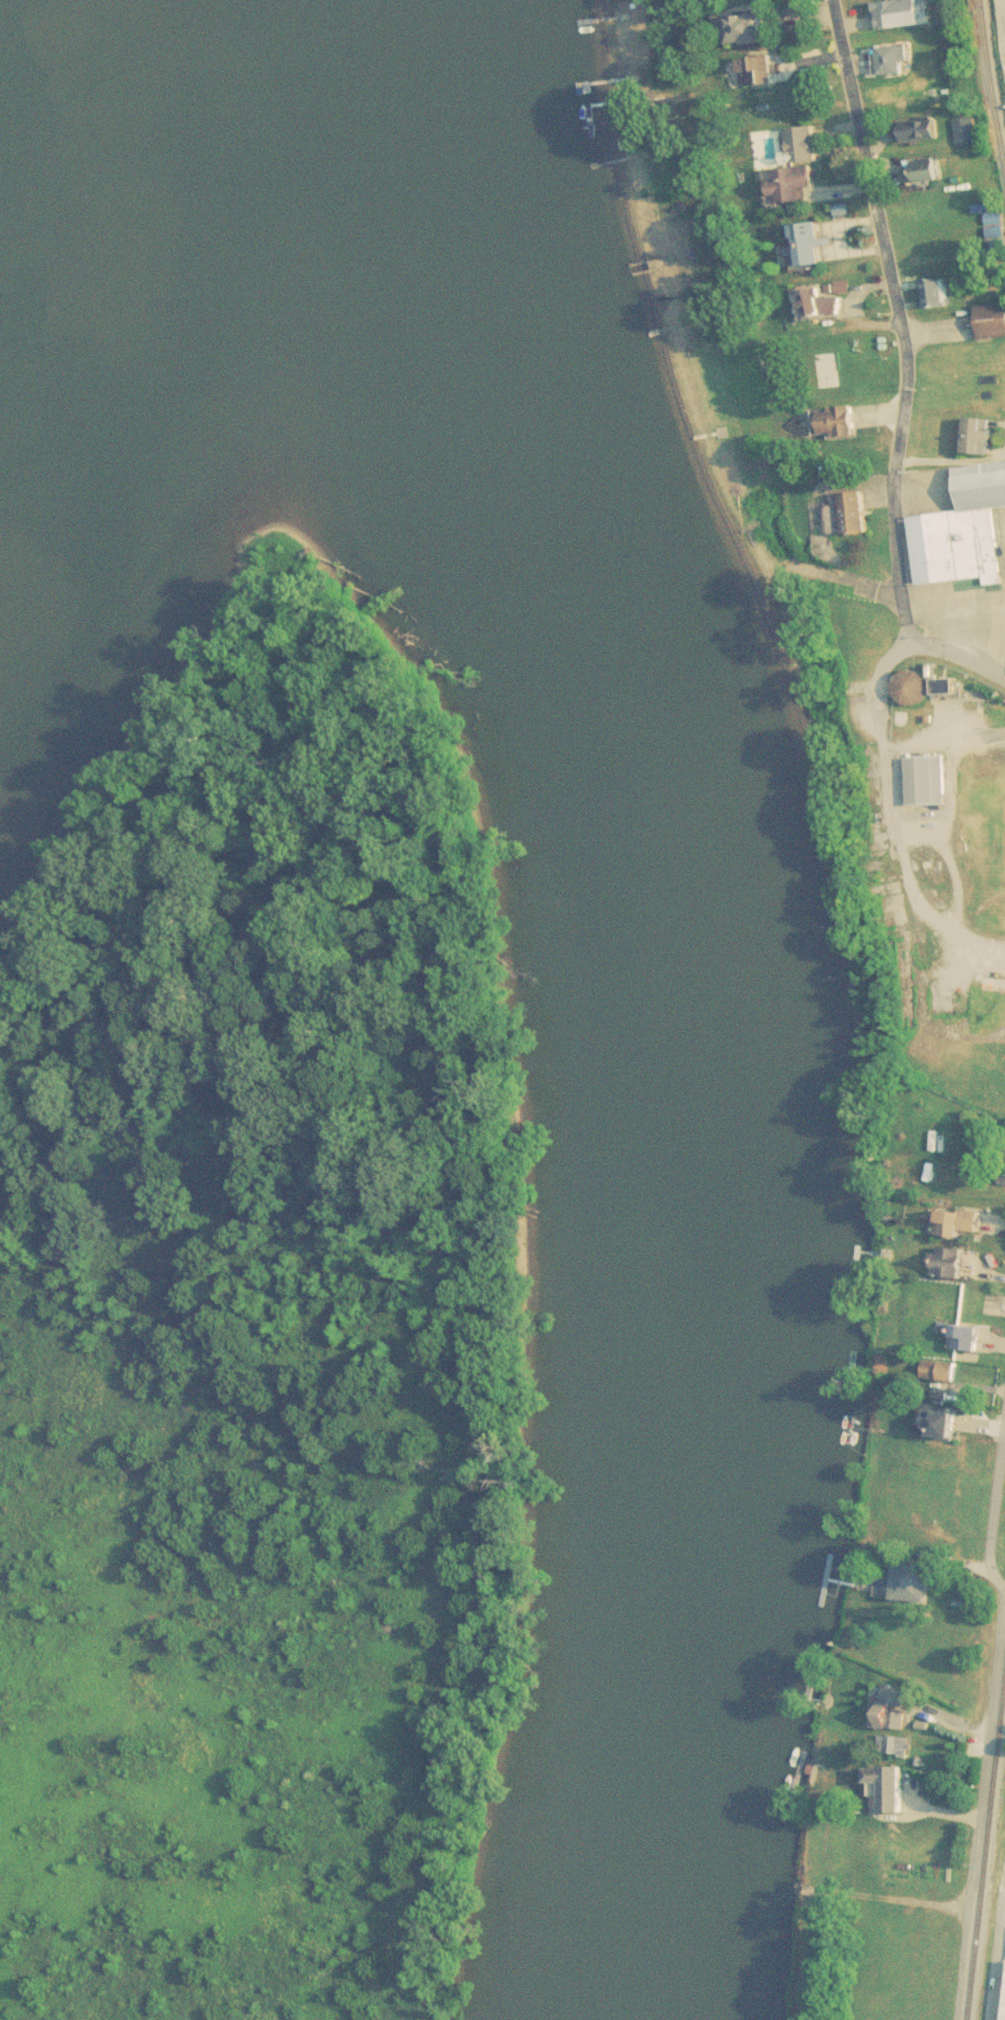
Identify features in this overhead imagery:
building: (893, 13)
building: (748, 27)
parking lot: (1001, 31)
building: (892, 58)
building: (758, 70)
railway: (990, 80)
building: (919, 129)
building: (787, 146)
building: (926, 172)
building: (791, 184)
building: (810, 243)
building: (941, 294)
building: (817, 302)
building: (992, 321)
road: (899, 323)
building: (834, 421)
building: (982, 434)
building: (855, 512)
building: (965, 531)
road: (958, 651)
building: (913, 688)
building: (929, 781)
road: (897, 827)
building: (960, 1223)
building: (950, 1263)
building: (967, 1339)
building: (942, 1371)
building: (943, 1425)
road: (994, 1507)
building: (915, 1583)
building: (892, 1709)
building: (895, 1744)
building: (888, 1781)
railway: (986, 1854)
road: (1004, 1880)
road: (993, 1954)
building: (1000, 1990)

